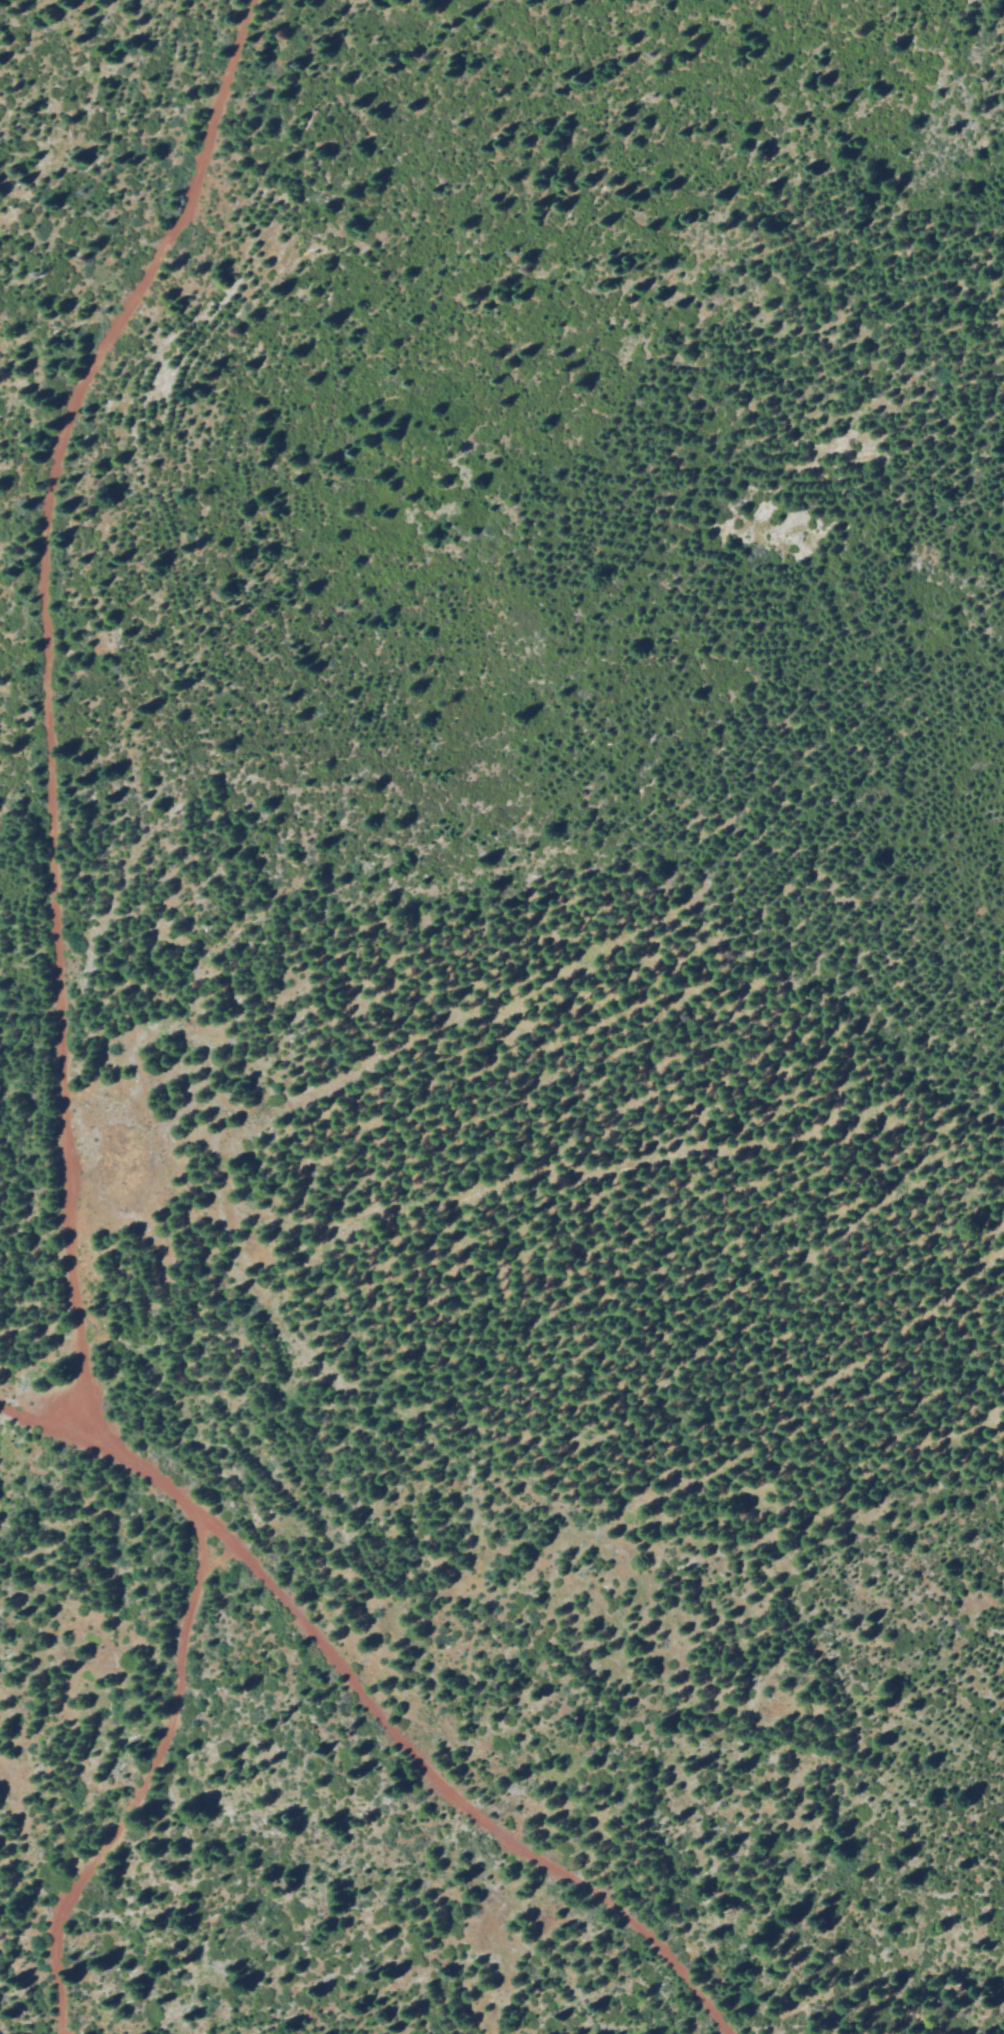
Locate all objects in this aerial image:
road: (47, 689)
road: (37, 1406)
road: (393, 1733)
road: (141, 1785)

